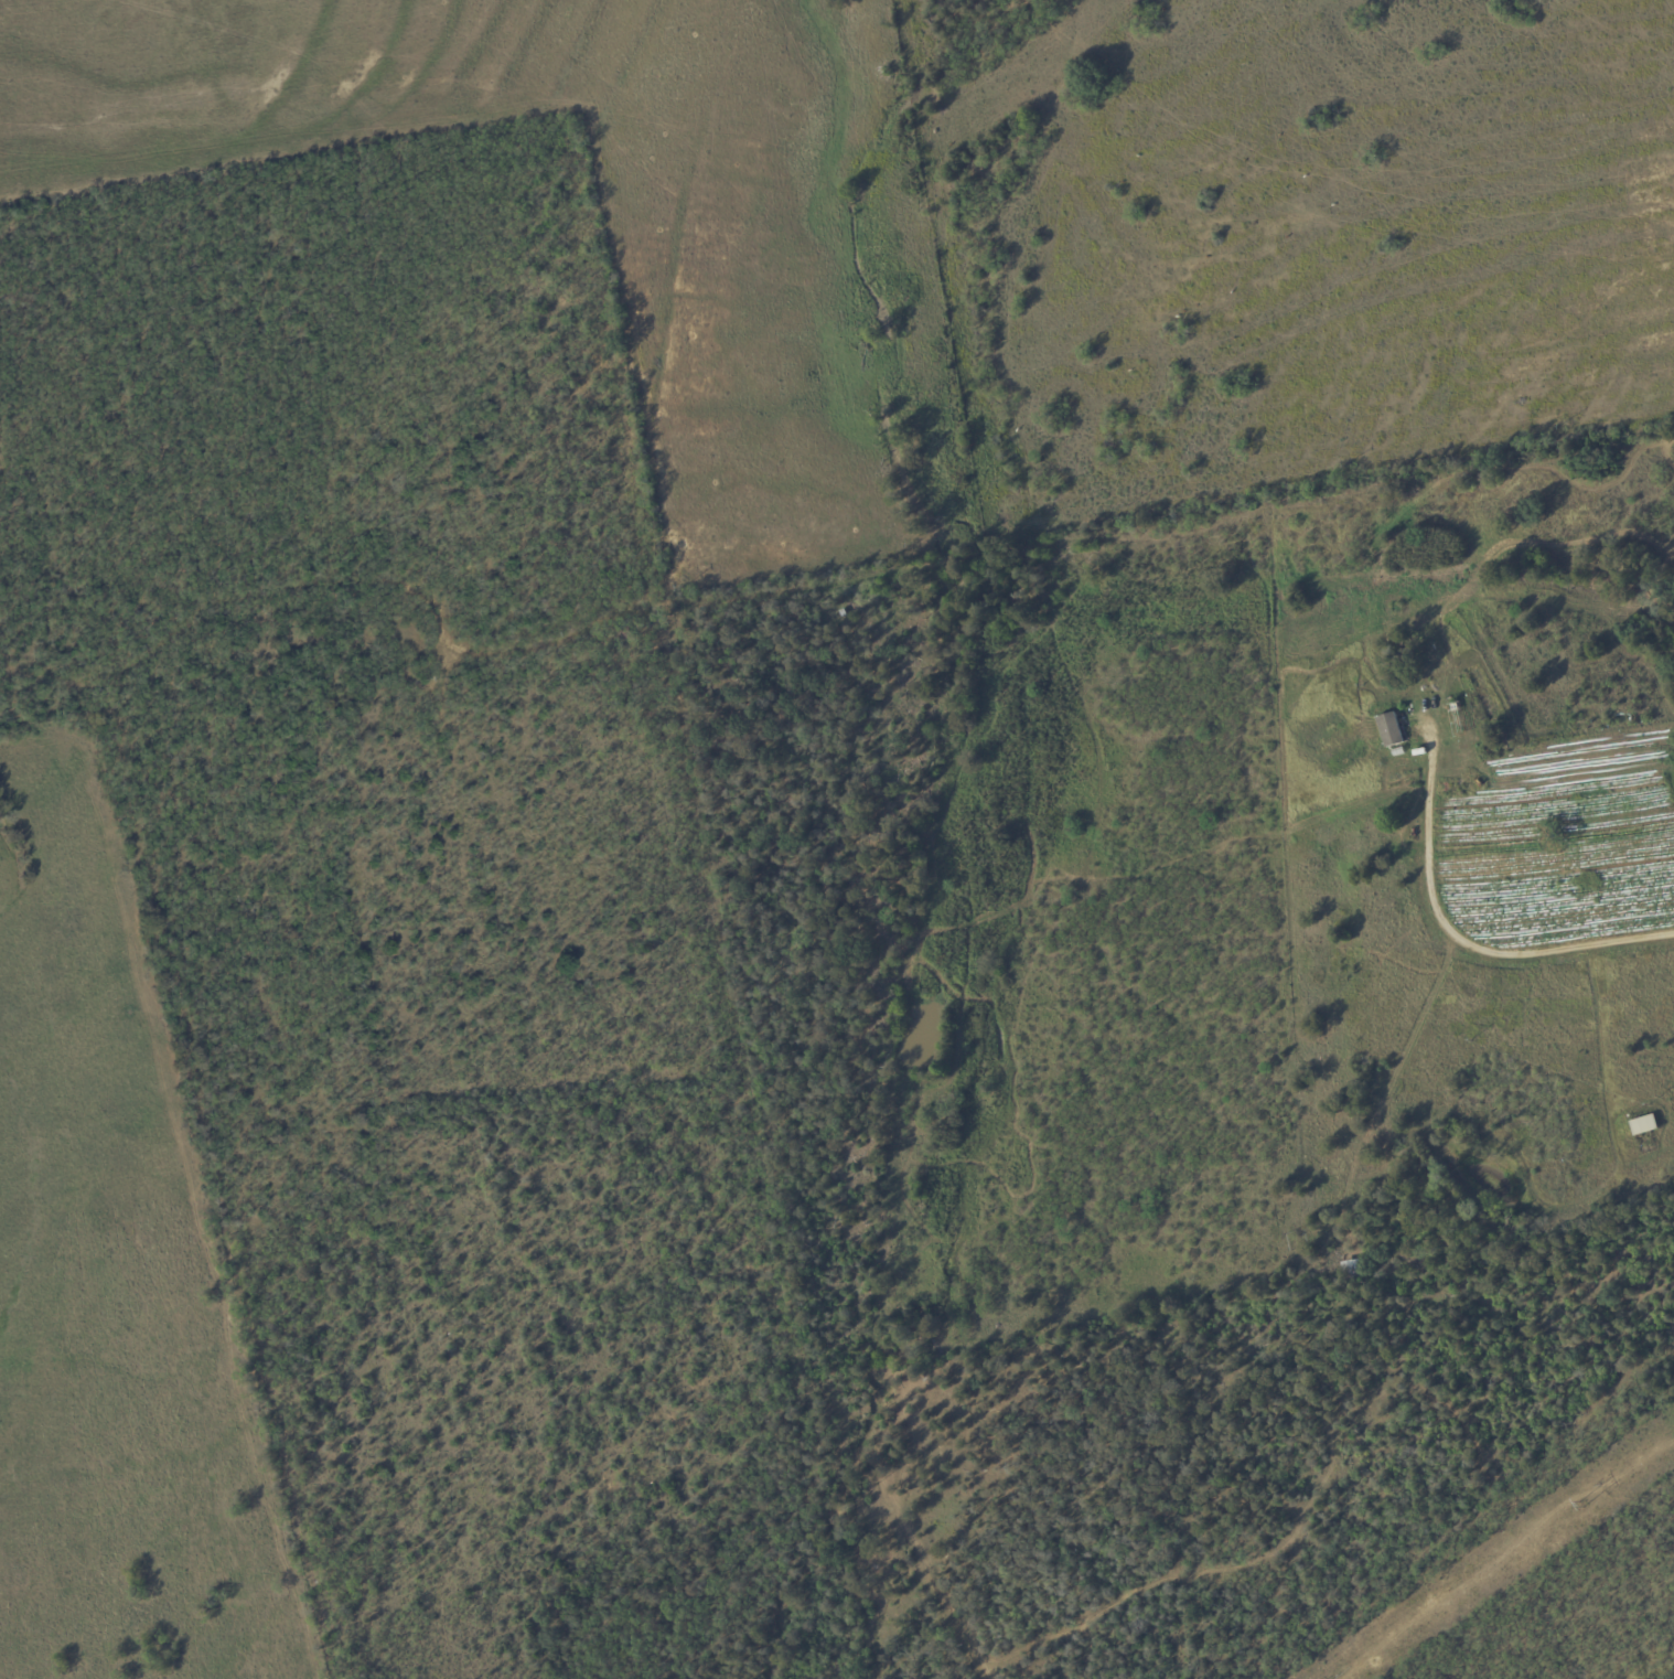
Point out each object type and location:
building: (1389, 729)
road: (1462, 942)
building: (1643, 1124)
power tower: (1580, 1505)

